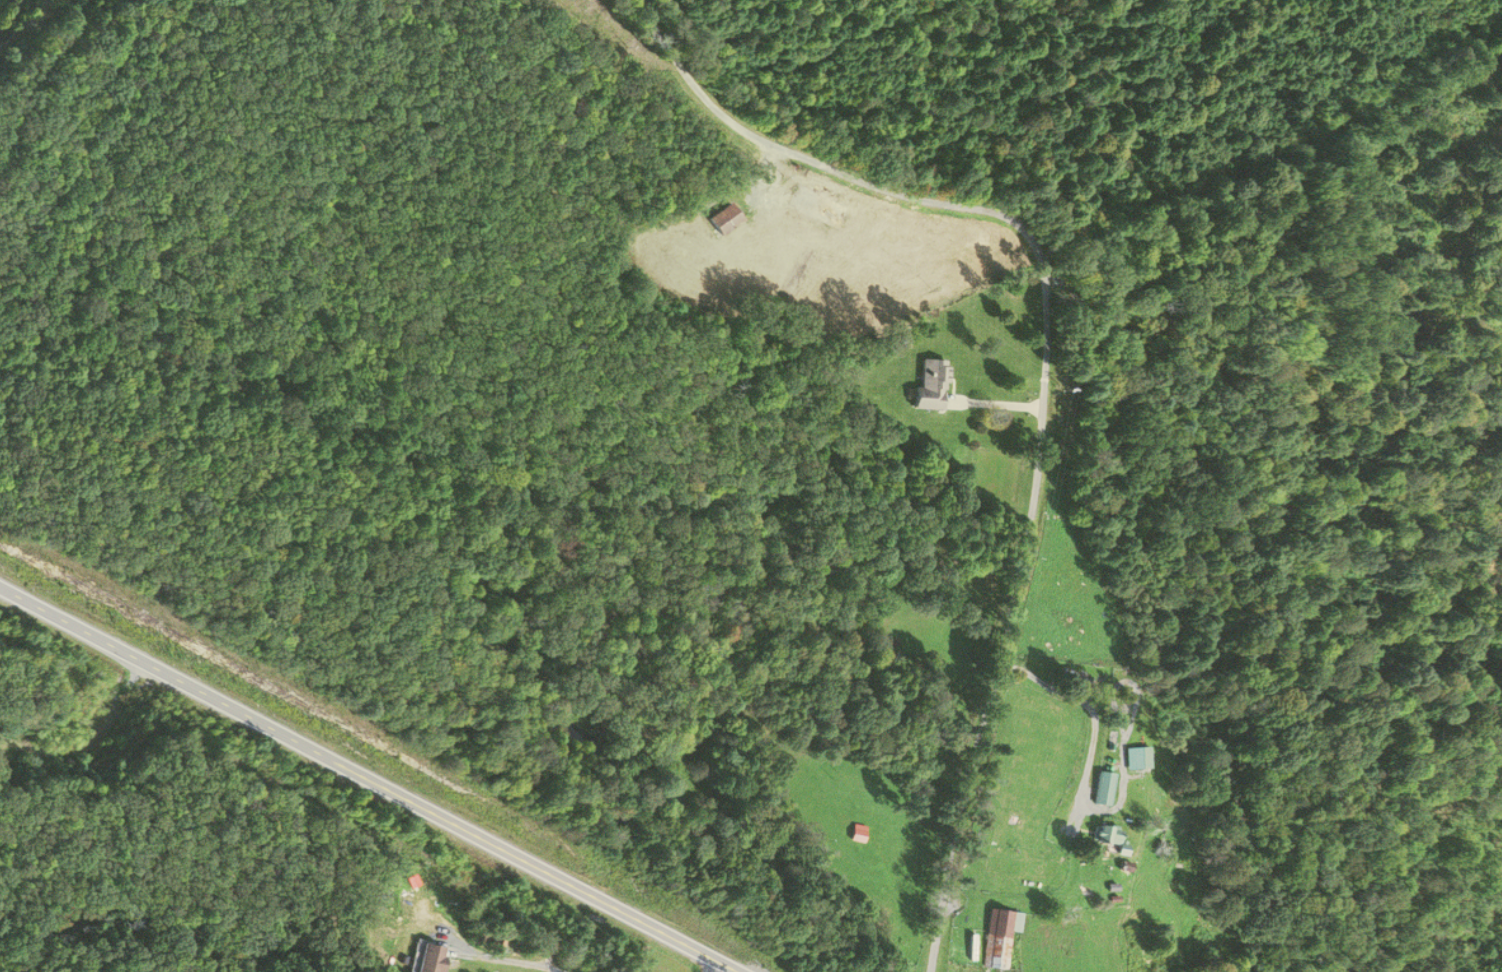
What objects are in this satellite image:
building: (724, 218)
road: (1043, 369)
building: (931, 385)
building: (1068, 677)
road: (370, 779)
building: (1105, 788)
building: (1108, 832)
building: (859, 833)
building: (1000, 937)
building: (433, 958)

